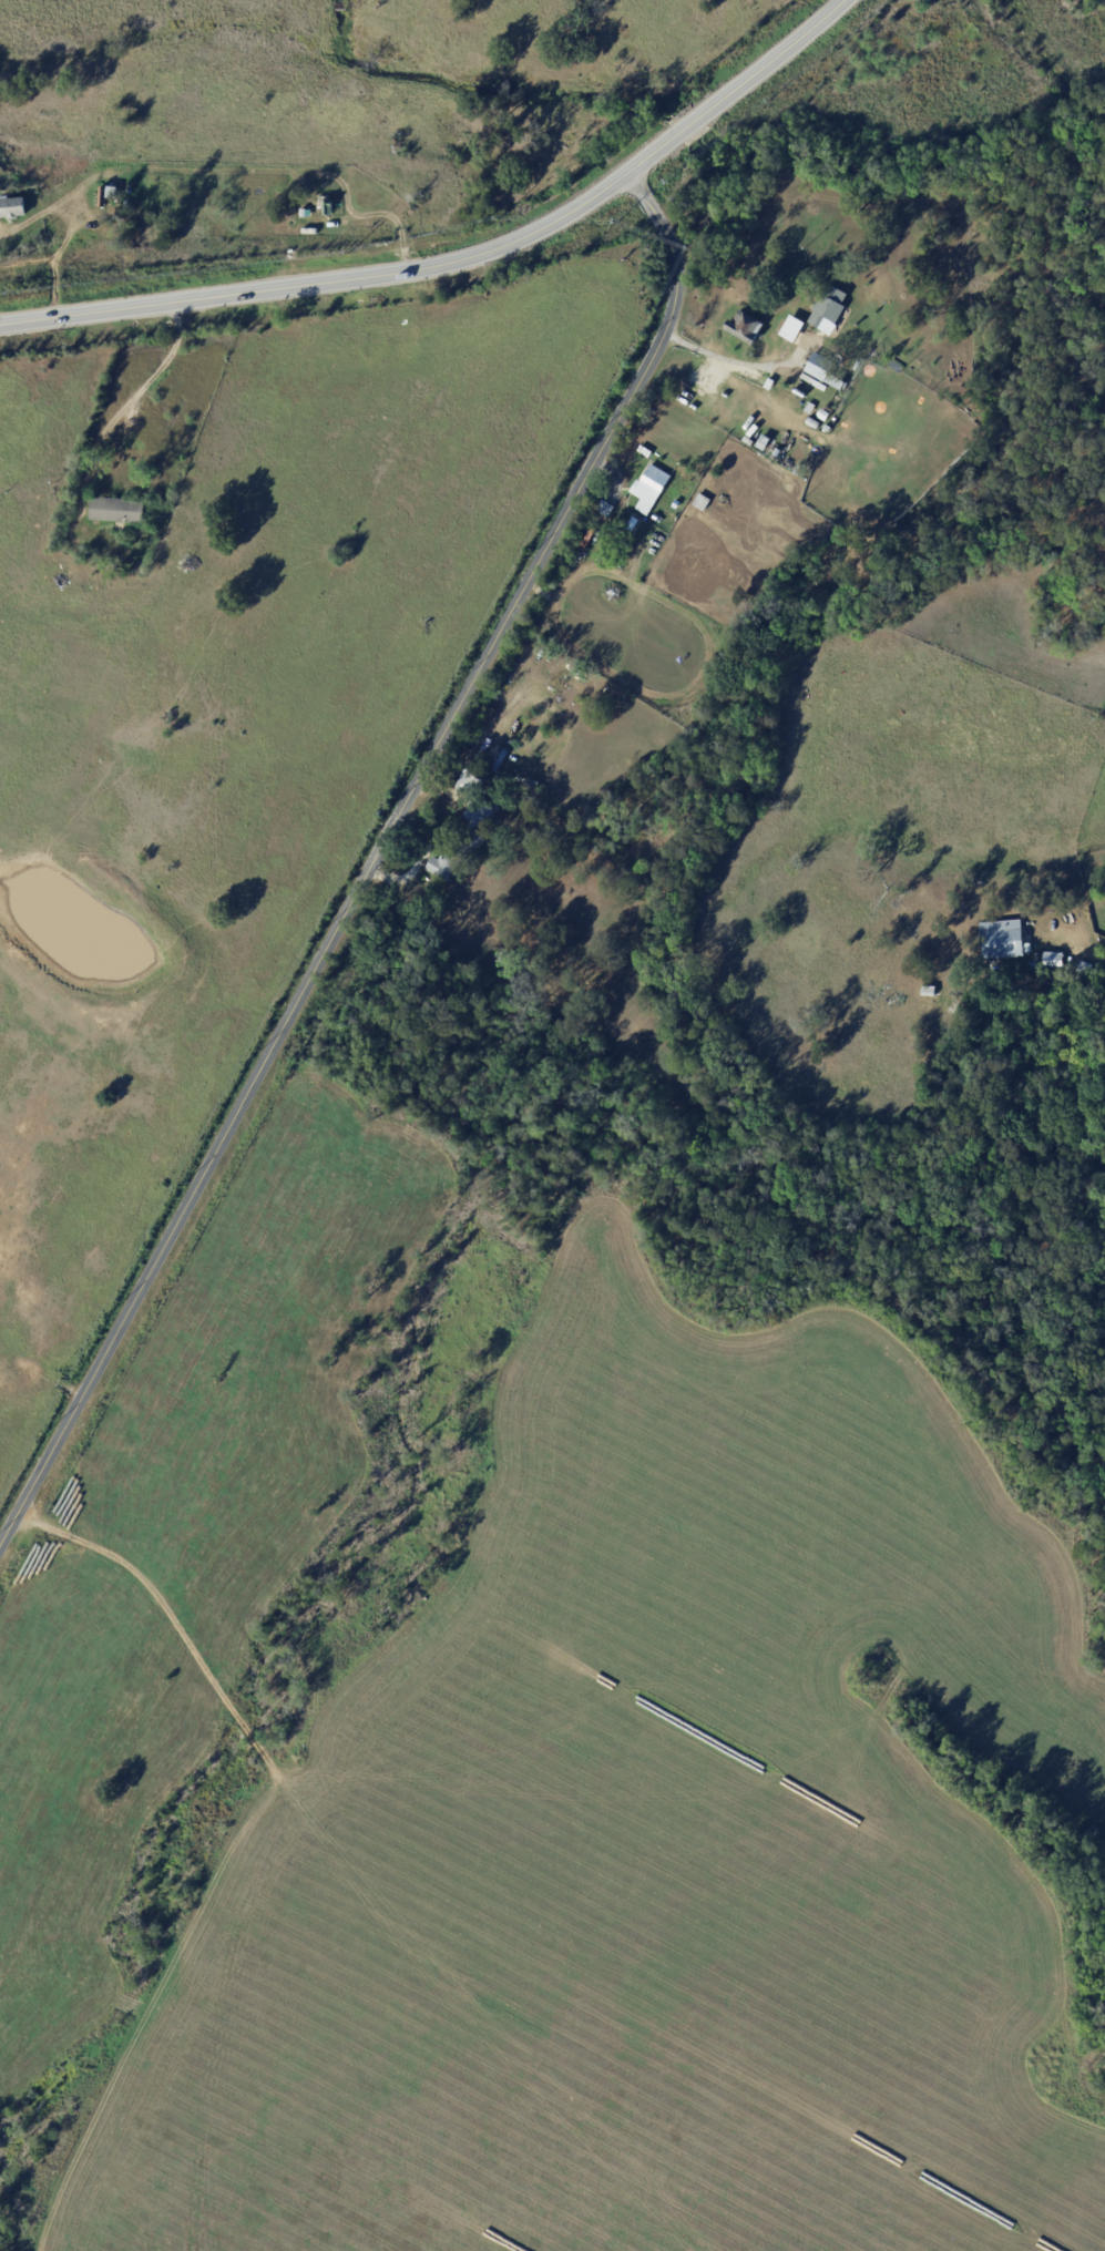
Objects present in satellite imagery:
road: (771, 58)
road: (687, 124)
road: (153, 164)
building: (12, 206)
road: (355, 278)
building: (826, 308)
building: (791, 328)
road: (715, 356)
building: (826, 372)
building: (724, 395)
road: (122, 405)
building: (643, 451)
building: (648, 488)
building: (700, 502)
building: (674, 505)
building: (604, 509)
building: (117, 512)
building: (622, 551)
building: (70, 560)
building: (470, 780)
building: (530, 786)
building: (495, 822)
building: (461, 842)
road: (371, 858)
building: (1000, 939)
road: (1086, 956)
building: (1052, 959)
building: (1033, 961)
building: (928, 991)

